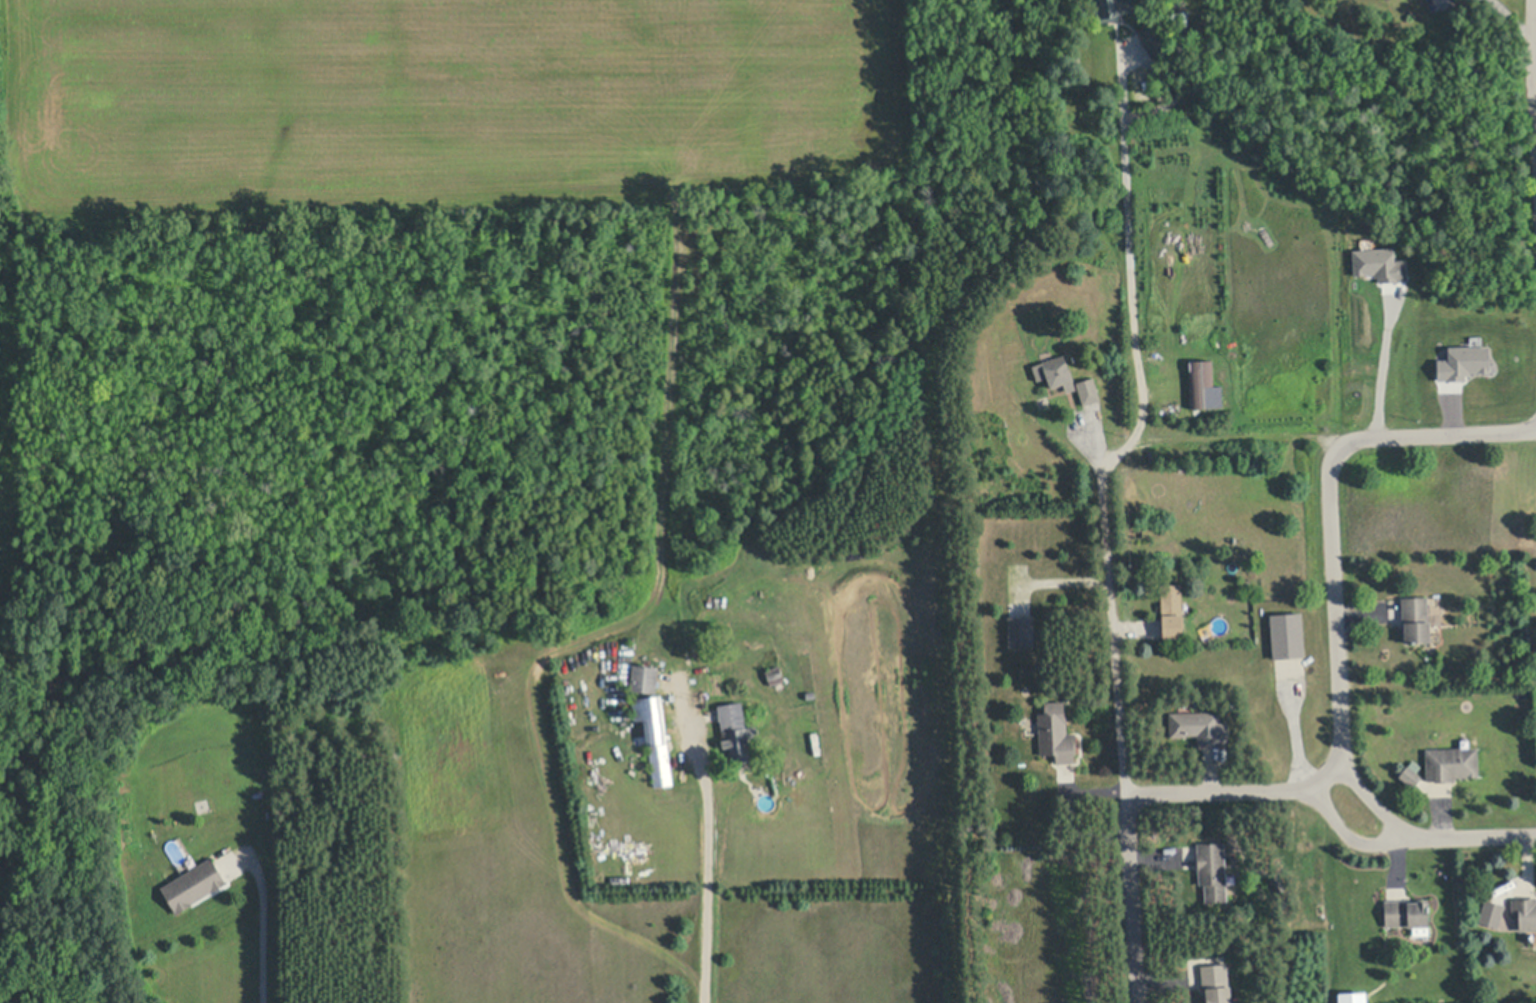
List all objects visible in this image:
building: (1111, 7)
building: (1154, 39)
road: (1535, 39)
building: (1376, 265)
building: (1459, 363)
building: (1056, 372)
building: (1204, 384)
building: (1088, 389)
road: (1137, 433)
road: (1242, 438)
building: (1170, 600)
building: (1473, 616)
building: (1416, 620)
building: (1172, 630)
building: (1021, 631)
building: (1287, 634)
building: (774, 674)
building: (645, 678)
building: (811, 694)
building: (651, 715)
road: (1341, 722)
building: (1200, 728)
building: (736, 730)
building: (1056, 736)
building: (1450, 763)
building: (660, 764)
building: (1410, 776)
road: (1351, 837)
road: (1422, 838)
building: (1180, 858)
building: (1213, 868)
building: (195, 885)
road: (711, 893)
building: (1524, 913)
building: (1407, 914)
building: (1492, 914)
road: (266, 926)
building: (1217, 984)
building: (1353, 996)

